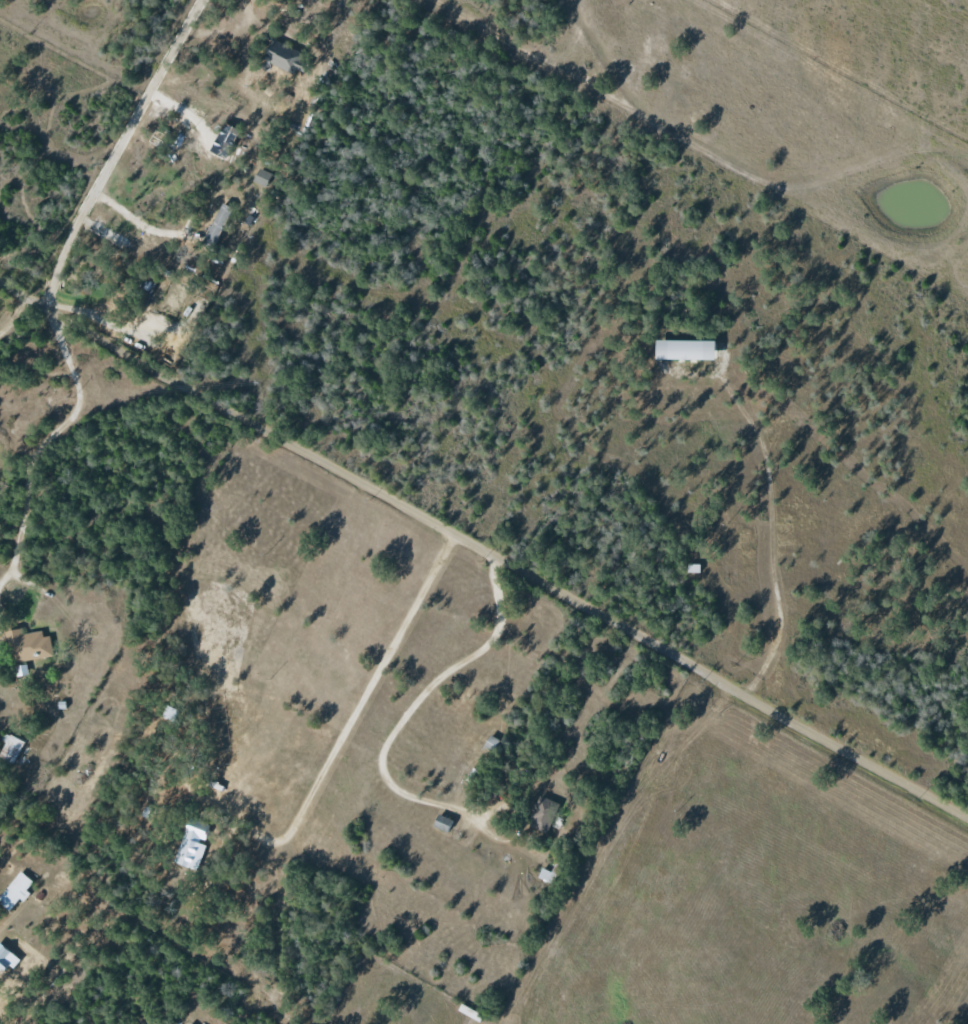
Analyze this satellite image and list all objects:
building: (285, 57)
road: (114, 151)
building: (217, 224)
road: (12, 313)
building: (683, 349)
road: (40, 444)
road: (770, 533)
road: (484, 553)
building: (693, 568)
building: (27, 645)
road: (348, 712)
road: (400, 715)
building: (490, 743)
building: (9, 748)
road: (561, 796)
building: (542, 814)
building: (441, 823)
building: (191, 843)
building: (14, 891)
road: (4, 910)
building: (6, 959)

